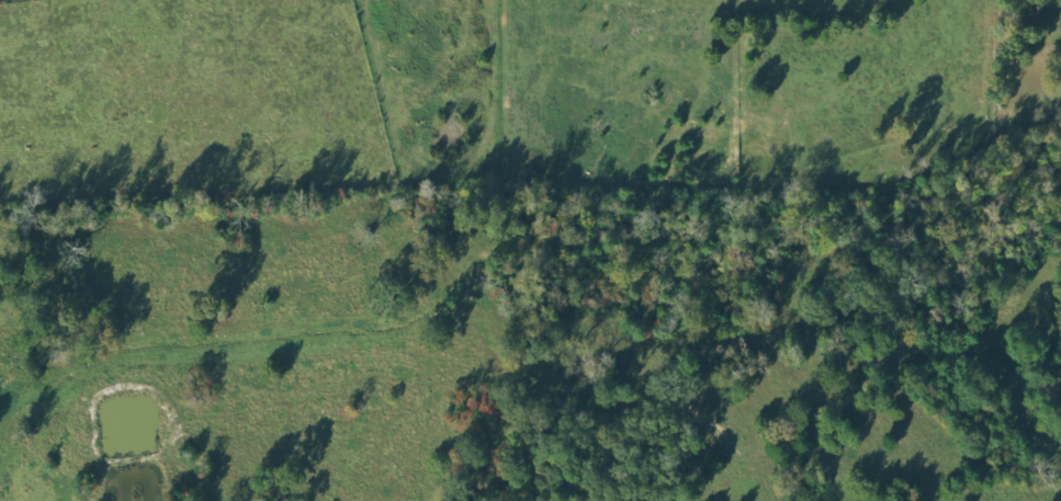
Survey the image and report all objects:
road: (1003, 24)

